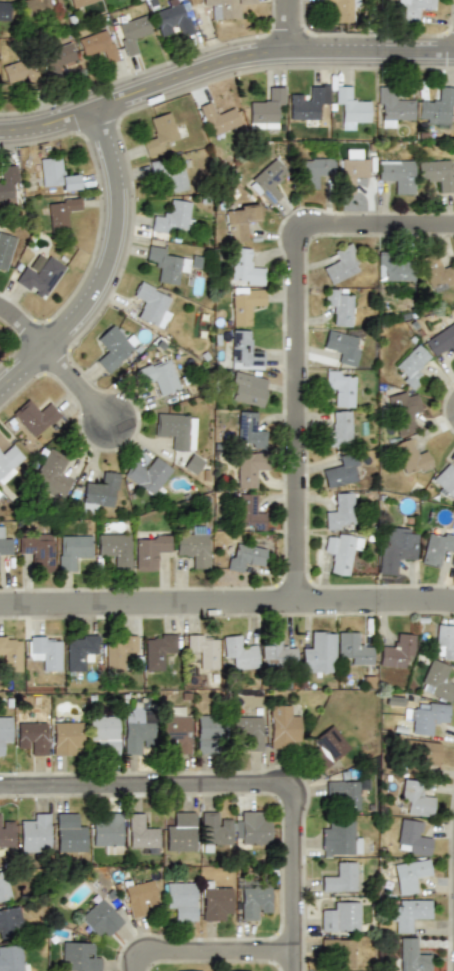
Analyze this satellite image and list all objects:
building: (75, 3)
building: (36, 6)
building: (226, 7)
building: (338, 7)
building: (413, 9)
building: (4, 12)
building: (171, 18)
road: (288, 26)
building: (132, 32)
building: (97, 45)
building: (57, 59)
road: (222, 63)
building: (21, 71)
building: (309, 102)
building: (392, 106)
building: (265, 108)
building: (438, 108)
building: (350, 109)
building: (219, 117)
building: (159, 134)
building: (313, 172)
building: (352, 173)
building: (436, 173)
building: (56, 174)
building: (397, 174)
building: (175, 176)
building: (268, 180)
building: (8, 185)
building: (60, 213)
building: (173, 216)
building: (241, 222)
building: (5, 250)
building: (168, 264)
building: (341, 264)
building: (245, 267)
building: (393, 268)
building: (436, 272)
building: (40, 275)
road: (114, 275)
building: (151, 304)
building: (245, 304)
building: (339, 306)
road: (27, 332)
building: (441, 341)
road: (303, 347)
building: (342, 347)
building: (113, 348)
building: (244, 351)
building: (411, 366)
building: (160, 376)
building: (341, 387)
building: (247, 388)
road: (84, 395)
building: (403, 412)
building: (34, 415)
building: (249, 429)
building: (339, 429)
building: (173, 430)
building: (411, 457)
building: (10, 462)
building: (192, 464)
building: (250, 468)
building: (342, 472)
building: (51, 474)
building: (148, 474)
building: (444, 482)
building: (99, 491)
building: (248, 512)
building: (339, 512)
building: (5, 542)
building: (115, 547)
building: (194, 547)
building: (436, 547)
building: (396, 548)
building: (149, 549)
building: (37, 550)
building: (73, 551)
building: (342, 552)
building: (249, 554)
road: (227, 609)
building: (445, 640)
building: (11, 648)
building: (354, 648)
building: (202, 649)
building: (396, 649)
building: (80, 650)
building: (118, 650)
building: (157, 650)
building: (45, 651)
building: (239, 652)
building: (278, 653)
building: (319, 653)
building: (437, 680)
building: (428, 717)
building: (284, 726)
building: (136, 730)
building: (174, 730)
building: (5, 731)
building: (248, 731)
building: (103, 732)
building: (209, 732)
building: (32, 736)
building: (65, 736)
building: (327, 747)
building: (426, 752)
road: (241, 789)
building: (342, 793)
building: (416, 798)
building: (253, 828)
building: (214, 829)
building: (141, 831)
building: (67, 832)
building: (107, 832)
building: (180, 832)
building: (6, 833)
building: (34, 833)
building: (412, 837)
building: (339, 839)
building: (411, 874)
building: (340, 877)
building: (3, 887)
building: (138, 896)
building: (181, 900)
building: (253, 902)
building: (216, 903)
building: (408, 913)
building: (340, 916)
building: (100, 917)
building: (9, 919)
building: (338, 951)
road: (214, 954)
building: (413, 955)
building: (78, 957)
building: (10, 958)
building: (238, 970)

